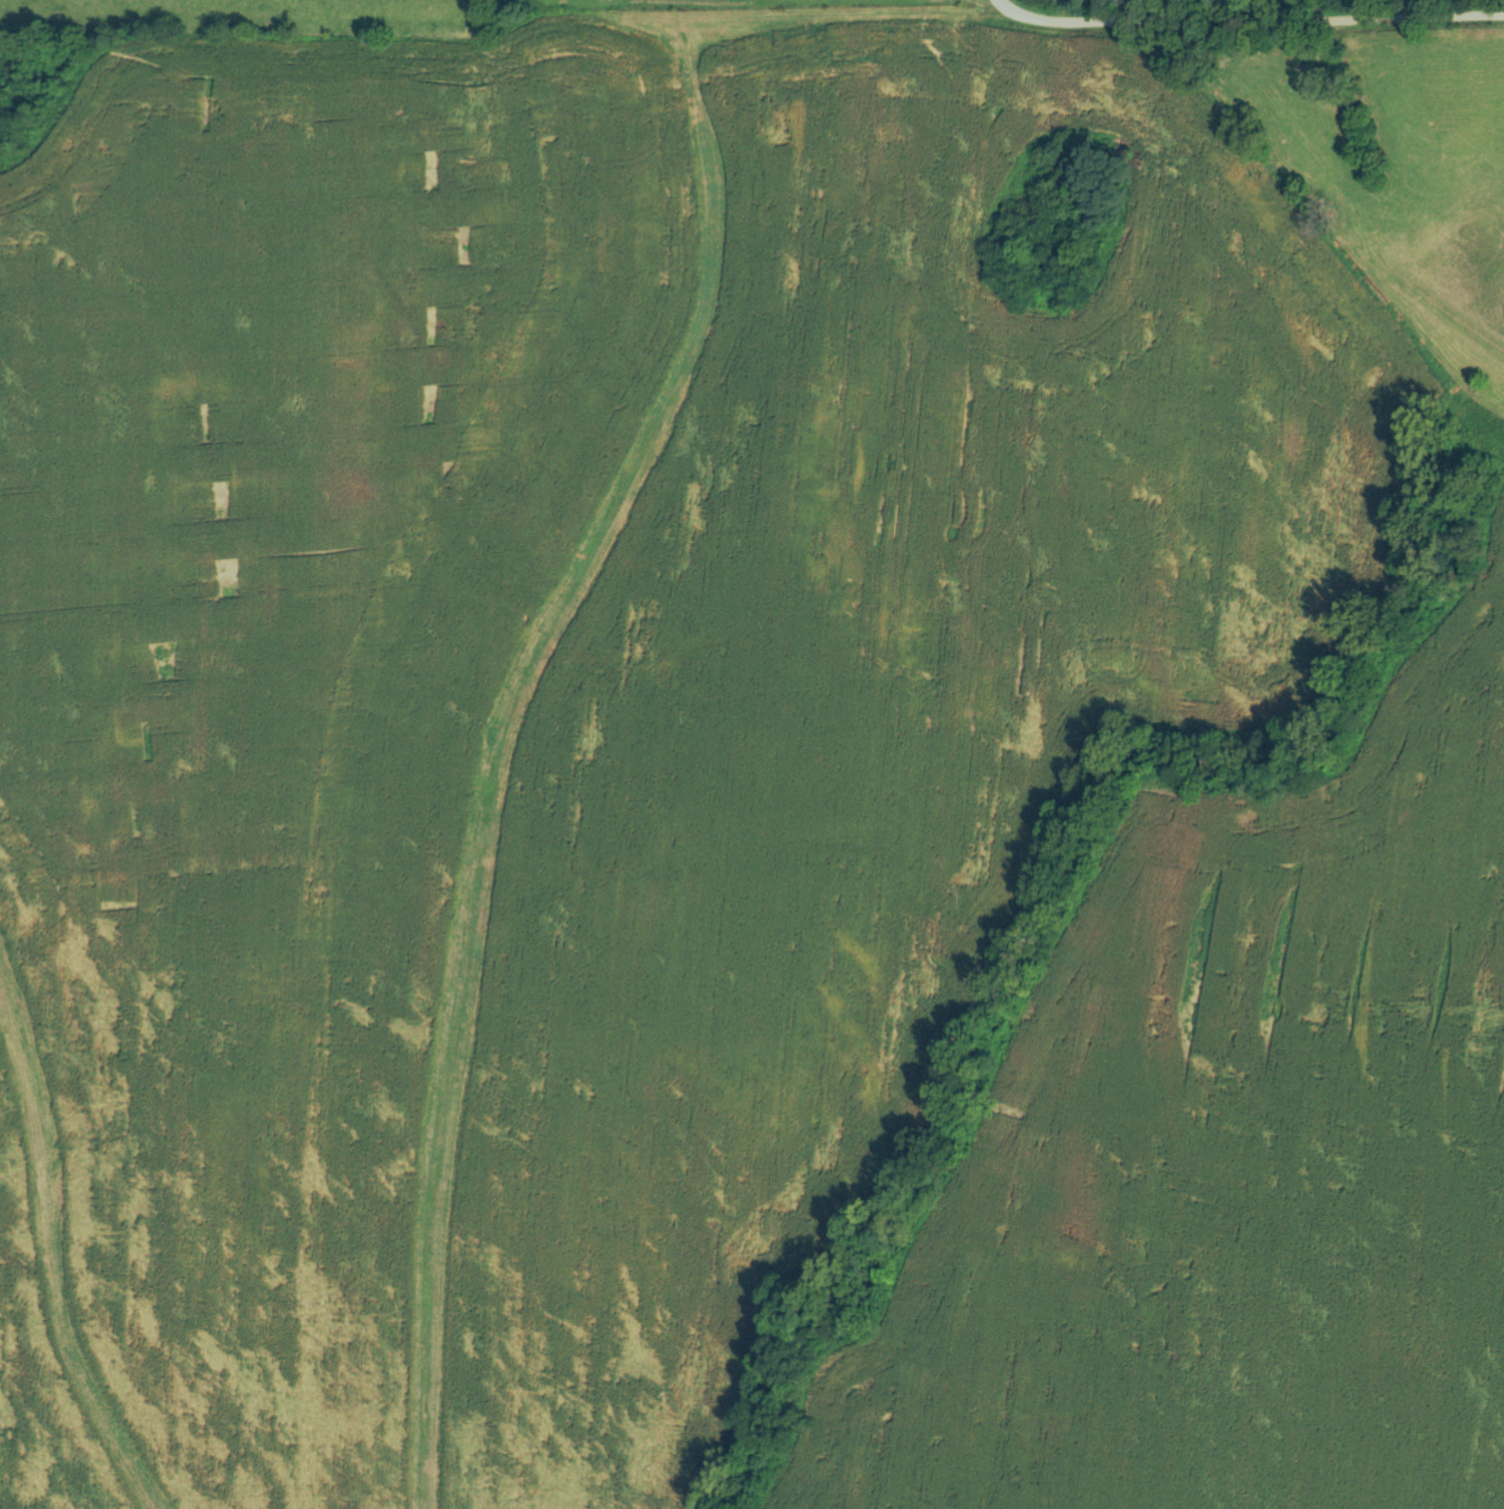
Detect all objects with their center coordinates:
road: (1256, 14)

